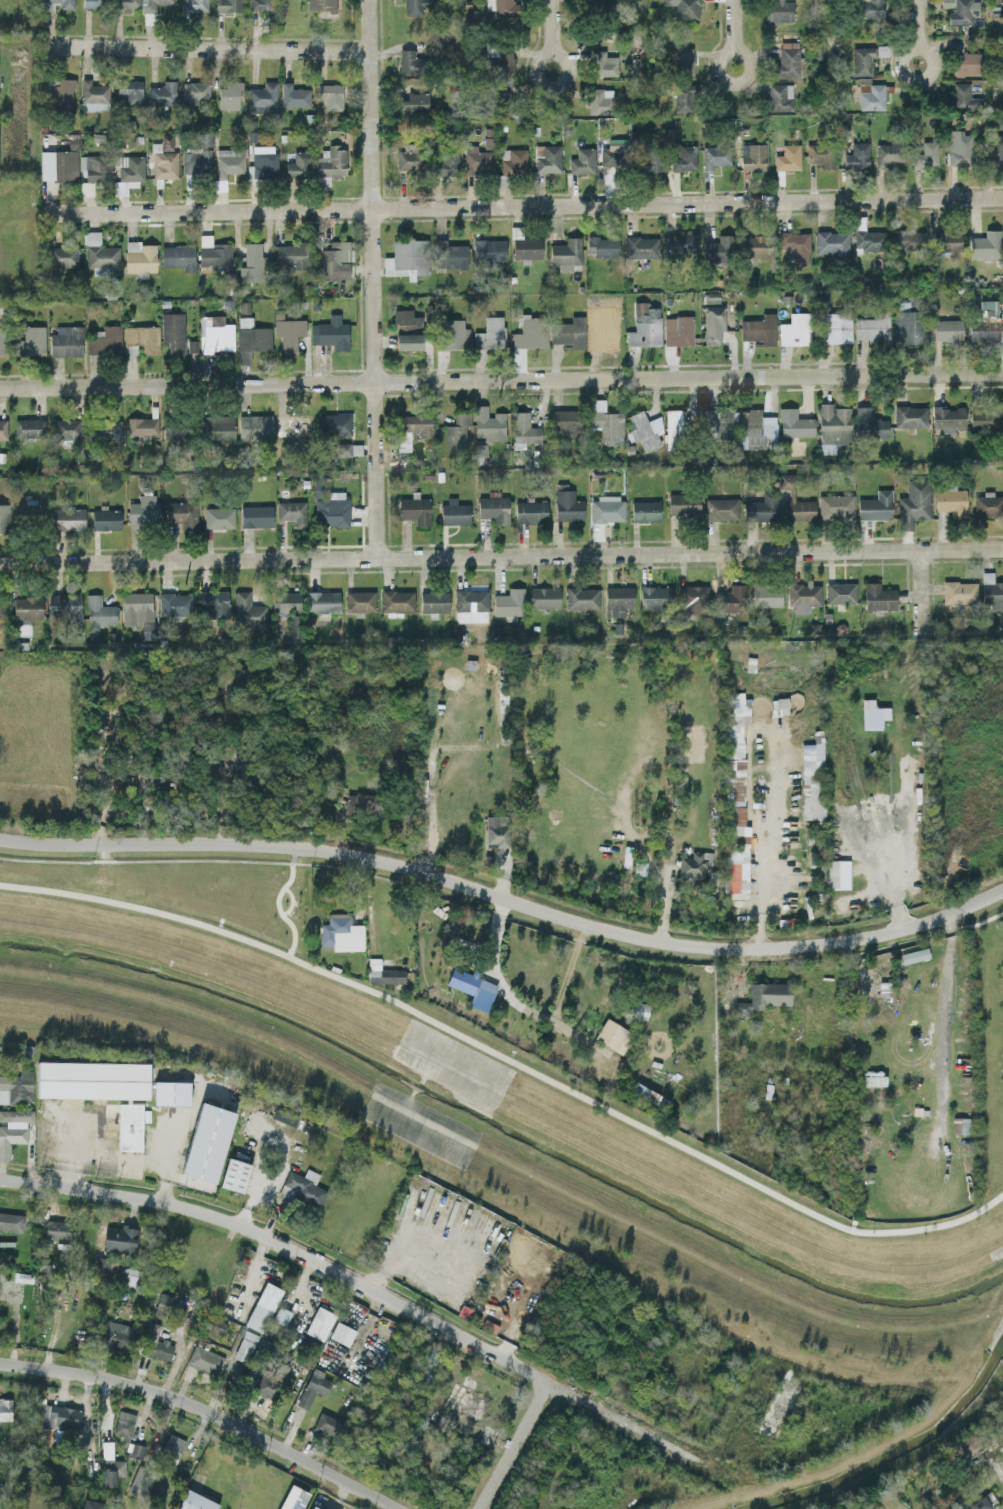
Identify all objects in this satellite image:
building: (95, 3)
building: (130, 3)
building: (155, 3)
building: (56, 5)
building: (195, 5)
building: (229, 5)
building: (261, 5)
building: (322, 5)
building: (416, 6)
building: (591, 6)
building: (501, 7)
building: (685, 8)
building: (871, 8)
building: (779, 10)
building: (961, 11)
road: (914, 24)
road: (732, 26)
road: (547, 27)
road: (209, 47)
road: (722, 55)
road: (904, 55)
building: (866, 58)
building: (789, 59)
building: (684, 60)
building: (509, 61)
building: (409, 62)
building: (968, 63)
road: (535, 64)
building: (604, 64)
building: (62, 92)
building: (130, 92)
building: (196, 92)
building: (163, 93)
building: (94, 95)
building: (230, 95)
building: (331, 95)
building: (295, 96)
building: (684, 96)
building: (871, 96)
building: (780, 97)
building: (965, 97)
building: (263, 98)
building: (601, 101)
building: (415, 104)
building: (996, 149)
building: (960, 150)
building: (888, 153)
building: (821, 154)
building: (857, 155)
building: (926, 155)
building: (410, 156)
building: (611, 156)
building: (716, 156)
building: (752, 157)
building: (788, 157)
building: (685, 158)
building: (478, 159)
building: (549, 159)
building: (164, 160)
building: (197, 161)
building: (230, 161)
building: (264, 161)
building: (583, 161)
building: (650, 161)
building: (449, 162)
building: (512, 162)
building: (331, 163)
building: (59, 165)
building: (298, 165)
building: (96, 167)
building: (129, 174)
road: (525, 206)
building: (908, 239)
building: (870, 240)
building: (947, 240)
building: (679, 242)
building: (833, 243)
building: (758, 245)
building: (986, 245)
building: (602, 246)
building: (795, 246)
building: (641, 247)
building: (719, 249)
building: (99, 252)
building: (488, 252)
building: (566, 253)
building: (449, 254)
building: (290, 255)
building: (64, 256)
building: (140, 256)
building: (179, 256)
building: (215, 256)
building: (407, 258)
building: (335, 261)
building: (252, 262)
road: (372, 278)
building: (711, 297)
building: (407, 322)
building: (985, 322)
building: (713, 324)
building: (906, 325)
building: (645, 326)
building: (836, 327)
building: (873, 328)
building: (759, 329)
building: (795, 329)
building: (948, 329)
building: (678, 330)
building: (173, 332)
building: (289, 332)
building: (569, 332)
building: (217, 333)
building: (331, 333)
building: (490, 333)
building: (531, 333)
building: (454, 334)
building: (141, 338)
building: (251, 338)
building: (3, 340)
building: (105, 340)
building: (31, 341)
building: (66, 341)
building: (409, 341)
building: (192, 346)
road: (501, 380)
building: (910, 416)
building: (986, 416)
building: (949, 418)
building: (565, 420)
building: (605, 421)
building: (718, 421)
building: (336, 423)
building: (794, 423)
building: (833, 423)
building: (869, 423)
building: (142, 425)
building: (292, 425)
building: (489, 425)
building: (255, 426)
building: (30, 427)
building: (176, 427)
building: (217, 427)
building: (413, 427)
building: (754, 427)
building: (3, 428)
building: (67, 428)
building: (105, 429)
building: (523, 429)
building: (644, 429)
building: (457, 430)
building: (826, 447)
building: (342, 449)
building: (952, 501)
building: (794, 502)
building: (567, 503)
building: (914, 503)
building: (988, 504)
building: (683, 505)
building: (875, 505)
building: (835, 506)
building: (494, 508)
building: (607, 508)
building: (721, 508)
building: (760, 508)
building: (144, 509)
building: (331, 509)
building: (414, 509)
building: (645, 510)
building: (292, 511)
building: (531, 511)
building: (454, 512)
building: (182, 513)
building: (256, 516)
building: (4, 517)
building: (218, 517)
building: (69, 518)
building: (106, 518)
road: (985, 549)
road: (483, 555)
building: (992, 591)
building: (840, 592)
building: (959, 592)
building: (766, 594)
building: (802, 595)
building: (545, 596)
building: (878, 596)
building: (582, 597)
building: (654, 597)
building: (695, 598)
building: (471, 599)
building: (617, 599)
building: (732, 599)
building: (360, 600)
building: (397, 601)
building: (323, 602)
building: (175, 603)
building: (213, 603)
building: (509, 603)
building: (2, 606)
building: (65, 606)
building: (27, 609)
building: (290, 609)
building: (138, 610)
building: (247, 611)
building: (98, 615)
building: (779, 706)
building: (872, 714)
road: (432, 777)
building: (812, 778)
building: (735, 792)
building: (358, 803)
building: (496, 830)
building: (694, 864)
building: (837, 873)
road: (506, 897)
road: (291, 900)
road: (279, 909)
road: (504, 916)
building: (341, 933)
building: (383, 973)
building: (472, 987)
building: (763, 996)
road: (947, 1017)
building: (613, 1035)
road: (509, 1059)
building: (92, 1079)
building: (16, 1087)
building: (171, 1092)
building: (284, 1115)
building: (964, 1125)
building: (129, 1127)
building: (13, 1129)
building: (207, 1142)
building: (235, 1175)
building: (303, 1188)
building: (8, 1203)
building: (11, 1221)
building: (59, 1229)
building: (120, 1239)
building: (104, 1265)
building: (132, 1277)
road: (383, 1296)
building: (162, 1305)
building: (263, 1306)
building: (281, 1315)
building: (320, 1323)
building: (342, 1333)
building: (116, 1334)
building: (156, 1345)
building: (205, 1359)
building: (270, 1380)
building: (313, 1387)
building: (5, 1409)
road: (208, 1410)
building: (59, 1416)
building: (124, 1423)
building: (327, 1424)
building: (967, 1442)
building: (172, 1445)
road: (517, 1447)
building: (136, 1450)
building: (140, 1481)
building: (292, 1497)
building: (196, 1501)
building: (92, 1504)
building: (978, 1504)
building: (312, 1507)

